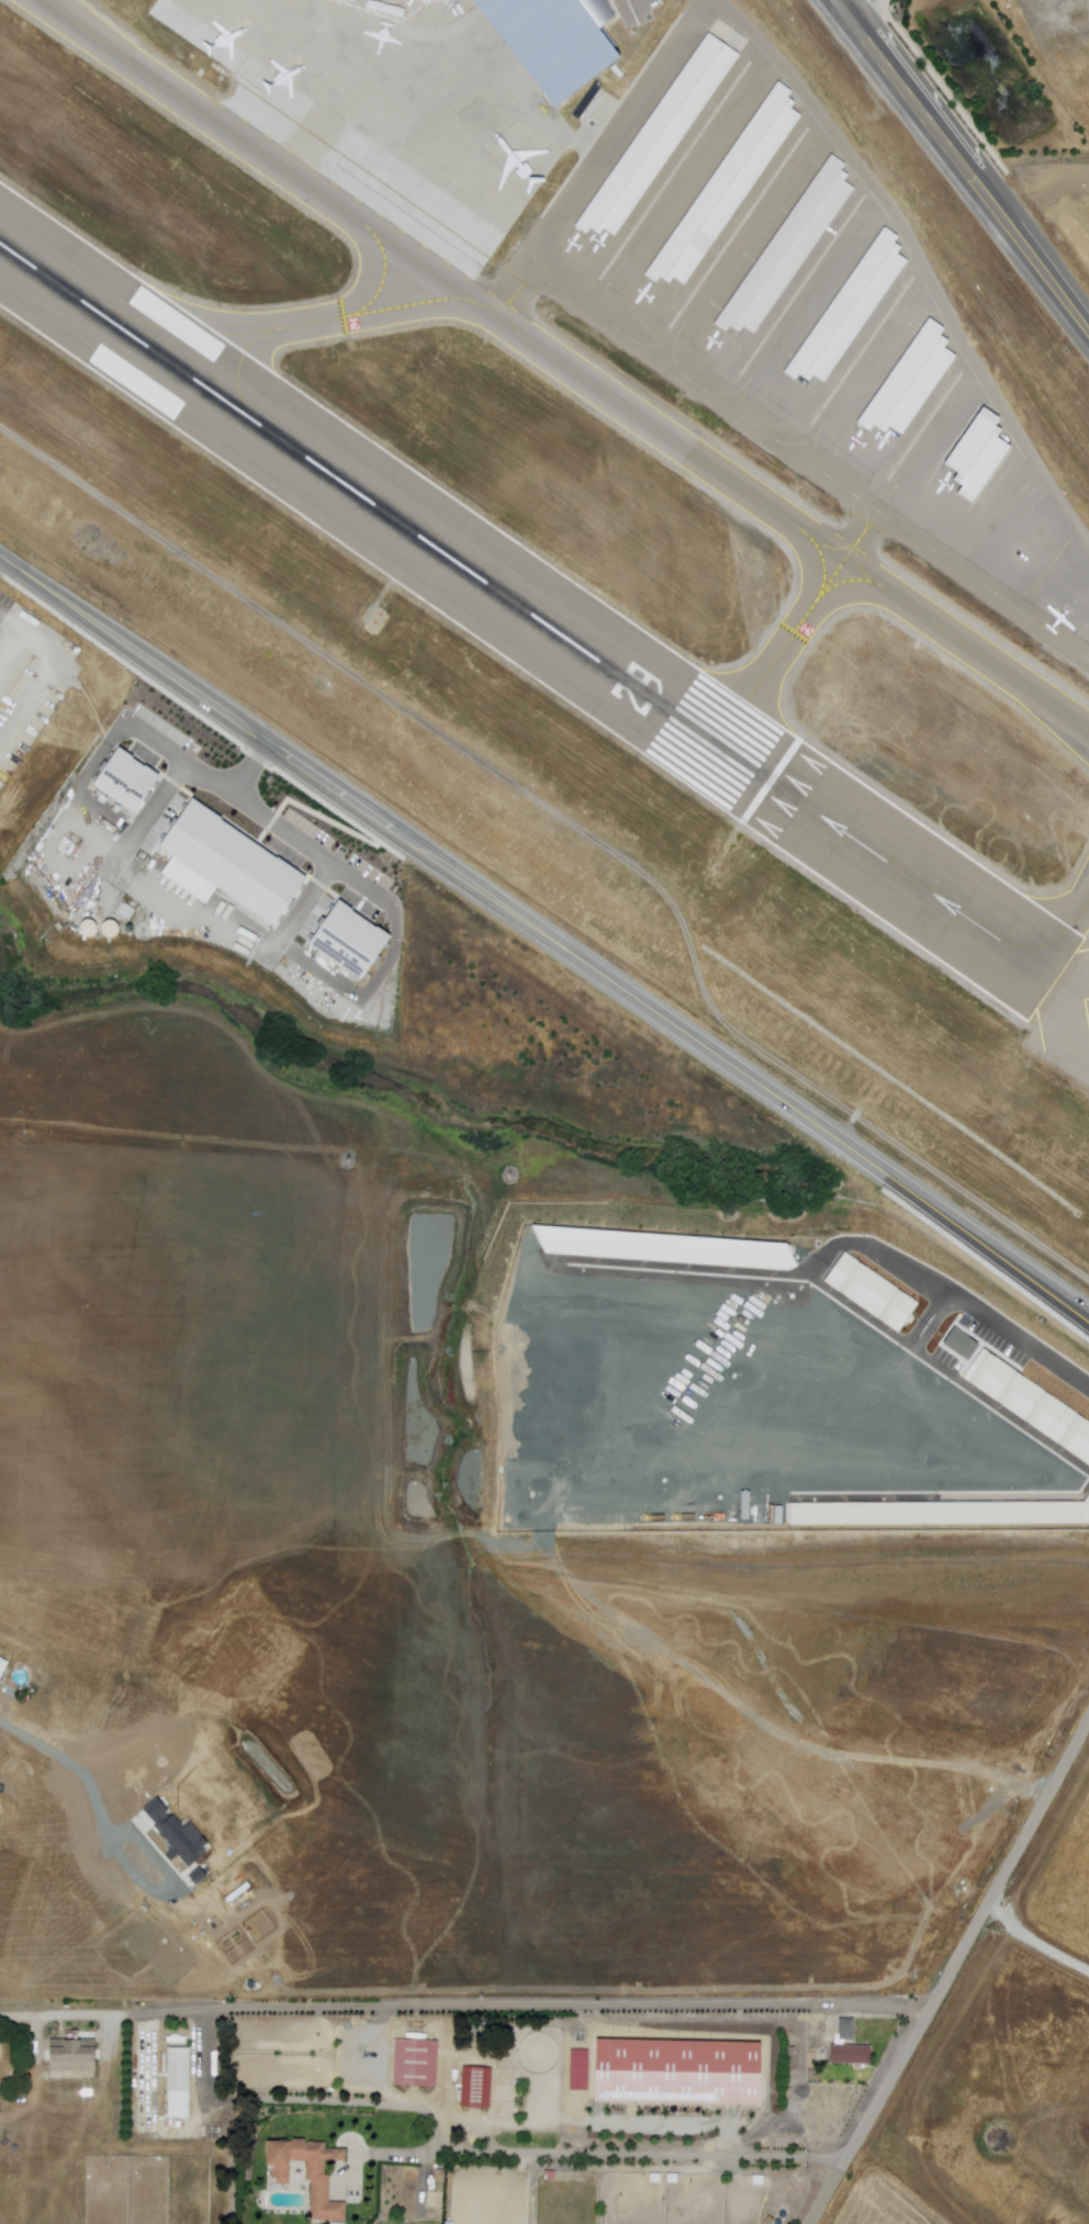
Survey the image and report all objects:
road: (638, 9)
airport hangar: (555, 41)
building: (555, 41)
airport apron: (388, 106)
airport hangar: (654, 135)
building: (654, 135)
road: (968, 164)
airport hangar: (726, 186)
building: (726, 186)
road: (882, 204)
airport hangar: (784, 245)
building: (784, 245)
airport taxiway: (423, 269)
airport taxiway: (380, 279)
airport taxiway: (506, 303)
airport hangar: (844, 303)
building: (844, 303)
airport taxiway: (403, 306)
airport apron: (799, 316)
airport taxiway: (181, 327)
airport taxiway: (254, 340)
airport hangar: (903, 380)
building: (903, 380)
airport hangar: (974, 454)
building: (974, 454)
airport: (591, 509)
airport taxiway: (839, 549)
airport taxiway: (855, 568)
airport taxiway: (840, 584)
airport taxiway: (819, 589)
airport runway: (527, 610)
road: (15, 636)
airport taxiway: (947, 637)
parking lot: (27, 676)
road: (40, 678)
airport taxiway: (751, 697)
airport taxiway: (723, 711)
road: (248, 765)
building: (127, 782)
road: (576, 827)
building: (235, 865)
road: (544, 933)
airport taxiway: (1041, 935)
building: (350, 945)
crop: (405, 1618)
road: (1033, 1942)
road: (948, 1972)
road: (348, 2007)
road: (124, 2017)
building: (847, 2029)
building: (852, 2055)
building: (76, 2057)
building: (414, 2064)
building: (676, 2073)
building: (181, 2079)
building: (474, 2088)
building: (313, 2175)
crop: (879, 2198)

